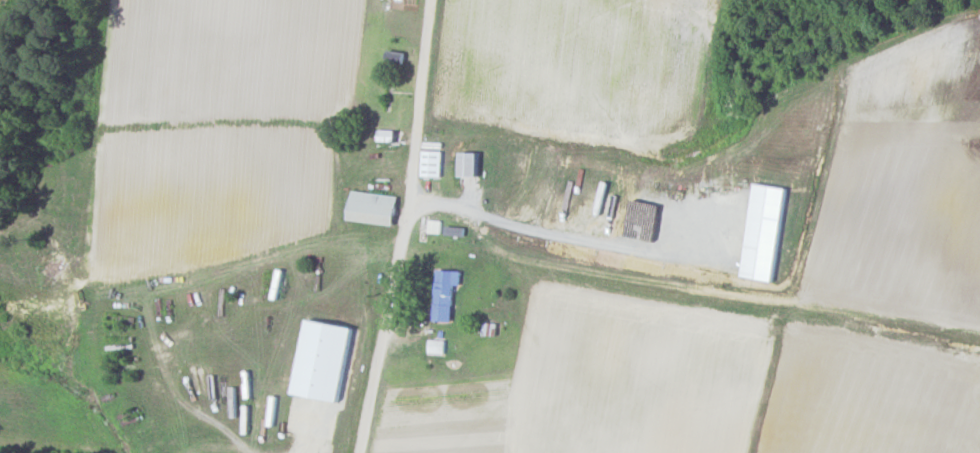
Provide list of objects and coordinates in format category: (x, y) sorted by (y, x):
building: (430, 162)
building: (466, 163)
building: (372, 207)
building: (433, 225)
road: (404, 227)
building: (764, 231)
road: (557, 232)
building: (445, 292)
building: (323, 359)
road: (310, 431)

